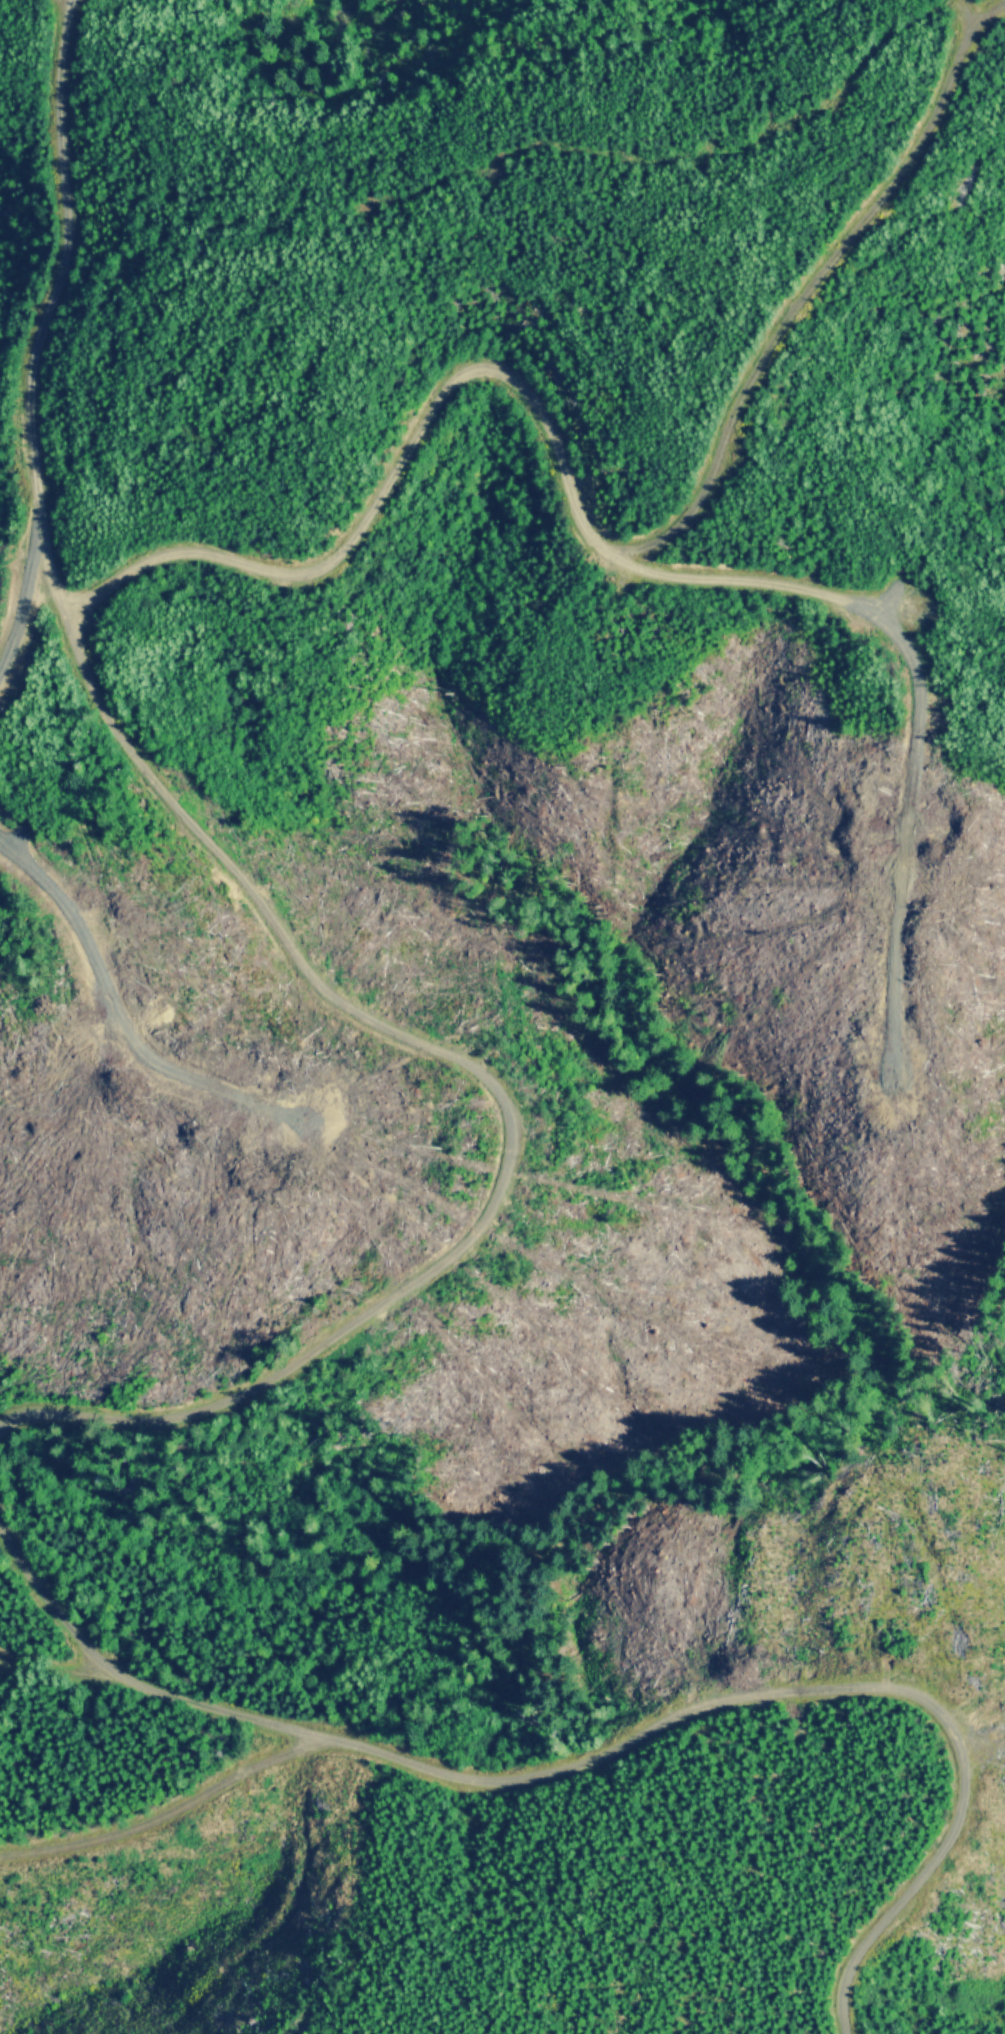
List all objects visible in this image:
road: (573, 482)
road: (328, 966)
road: (43, 1661)
road: (481, 1773)
road: (146, 1826)
road: (934, 1910)

